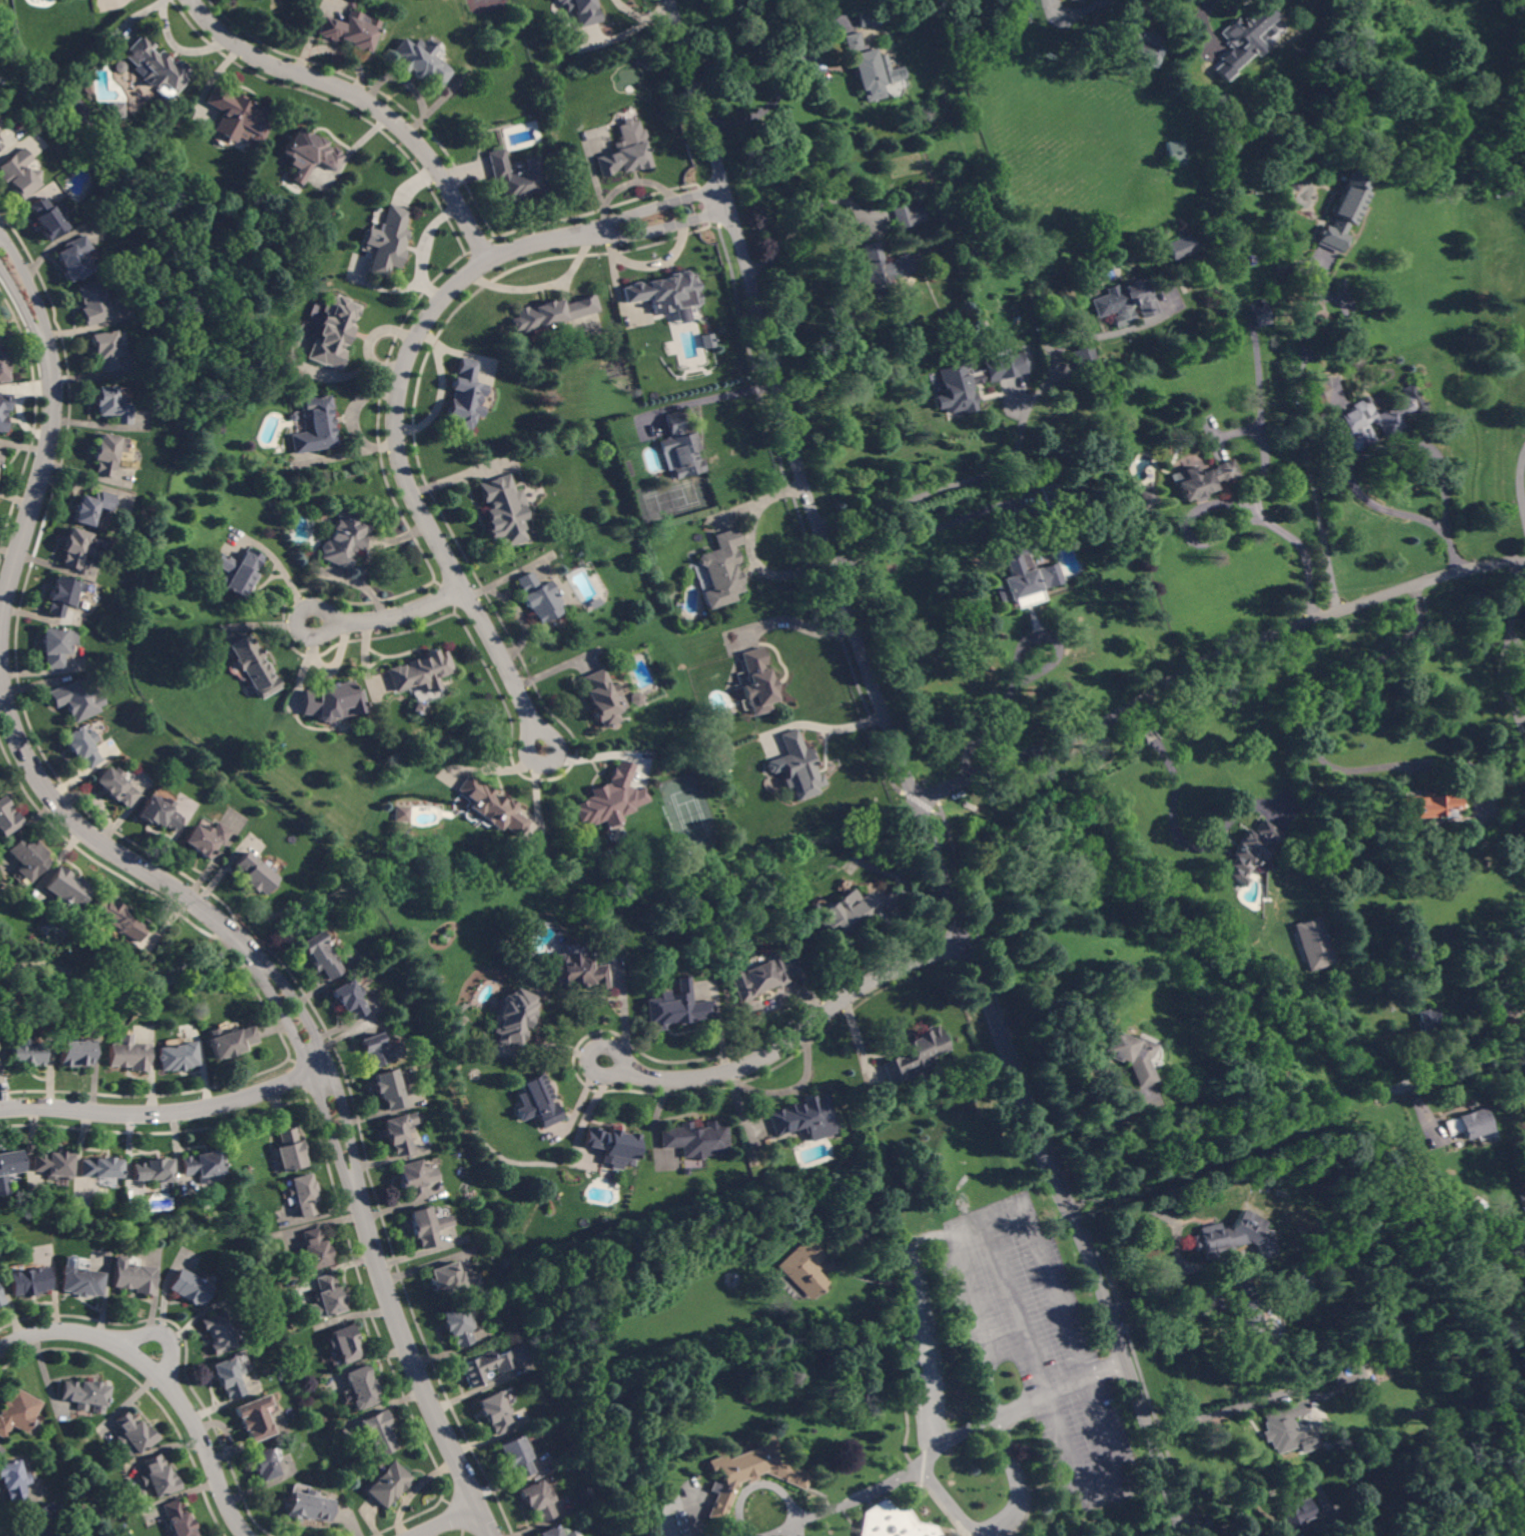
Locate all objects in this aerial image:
building: (886, 2)
building: (583, 11)
road: (643, 16)
building: (869, 18)
road: (1203, 21)
building: (350, 30)
building: (1244, 36)
building: (1143, 45)
building: (1047, 48)
building: (421, 61)
building: (156, 65)
building: (120, 66)
building: (871, 68)
road: (366, 100)
road: (766, 106)
building: (114, 109)
building: (239, 114)
building: (1, 145)
building: (309, 151)
building: (1172, 153)
building: (624, 156)
building: (19, 174)
building: (517, 177)
building: (1294, 186)
building: (1511, 188)
building: (1343, 211)
building: (909, 212)
building: (46, 218)
road: (802, 222)
road: (609, 241)
building: (913, 241)
building: (388, 242)
road: (417, 245)
building: (1178, 248)
building: (74, 259)
road: (663, 259)
building: (1284, 267)
building: (886, 268)
road: (541, 284)
building: (664, 292)
road: (617, 294)
building: (91, 303)
building: (1124, 303)
building: (552, 314)
building: (1258, 314)
building: (333, 333)
building: (684, 338)
building: (105, 349)
road: (460, 353)
building: (1086, 364)
building: (1003, 367)
building: (2, 369)
road: (401, 382)
building: (955, 385)
building: (1318, 393)
building: (465, 395)
road: (438, 397)
road: (703, 398)
building: (111, 404)
building: (4, 412)
building: (292, 417)
building: (1375, 418)
building: (316, 427)
road: (1265, 441)
road: (1017, 442)
road: (49, 443)
road: (1387, 443)
building: (677, 447)
building: (108, 453)
building: (0, 454)
road: (1308, 455)
building: (1204, 479)
road: (1520, 482)
building: (1145, 496)
building: (1052, 497)
building: (92, 507)
building: (502, 511)
road: (931, 529)
road: (1291, 536)
building: (345, 537)
building: (76, 547)
road: (748, 549)
building: (720, 569)
building: (241, 573)
building: (1022, 576)
road: (477, 591)
building: (63, 594)
road: (504, 597)
building: (537, 597)
road: (1515, 598)
road: (390, 616)
road: (797, 624)
building: (1450, 629)
road: (1517, 643)
building: (55, 646)
road: (1211, 659)
building: (253, 666)
building: (418, 671)
building: (757, 681)
road: (1503, 681)
building: (602, 698)
building: (76, 699)
building: (637, 700)
building: (335, 702)
road: (1000, 707)
road: (1322, 708)
road: (834, 727)
building: (80, 747)
building: (797, 766)
road: (905, 775)
building: (115, 786)
building: (609, 799)
building: (1430, 805)
building: (491, 807)
building: (159, 813)
building: (400, 814)
building: (7, 818)
road: (1172, 820)
road: (1504, 832)
building: (205, 838)
building: (1328, 839)
building: (1250, 851)
building: (28, 856)
building: (1314, 861)
building: (251, 874)
building: (66, 891)
building: (852, 913)
building: (114, 917)
building: (445, 936)
building: (711, 941)
building: (1313, 942)
building: (319, 955)
building: (1421, 958)
building: (1519, 966)
building: (575, 971)
building: (756, 978)
building: (348, 998)
building: (1497, 1003)
building: (675, 1007)
building: (514, 1017)
building: (1427, 1020)
building: (1506, 1028)
road: (792, 1038)
building: (230, 1041)
building: (380, 1050)
building: (26, 1052)
building: (75, 1053)
building: (915, 1053)
building: (1125, 1054)
building: (128, 1056)
building: (177, 1056)
road: (318, 1060)
road: (1476, 1071)
road: (1111, 1082)
building: (388, 1089)
building: (541, 1101)
road: (164, 1111)
building: (805, 1119)
building: (1470, 1124)
building: (398, 1134)
building: (697, 1139)
building: (613, 1145)
building: (1177, 1146)
building: (288, 1151)
building: (202, 1164)
building: (53, 1165)
building: (9, 1168)
building: (101, 1168)
building: (153, 1171)
building: (686, 1171)
building: (412, 1179)
building: (301, 1195)
building: (1522, 1198)
road: (1145, 1204)
building: (1524, 1209)
building: (428, 1224)
building: (1231, 1237)
building: (314, 1251)
building: (804, 1267)
building: (134, 1277)
road: (1175, 1277)
building: (452, 1280)
building: (30, 1281)
building: (82, 1281)
building: (189, 1286)
building: (2, 1298)
building: (327, 1298)
building: (457, 1325)
building: (1252, 1331)
building: (218, 1333)
road: (987, 1340)
building: (345, 1344)
building: (487, 1366)
building: (1315, 1376)
building: (227, 1377)
road: (161, 1378)
road: (1068, 1382)
building: (363, 1387)
building: (84, 1394)
road: (928, 1397)
building: (17, 1411)
building: (496, 1413)
road: (1214, 1415)
building: (254, 1418)
building: (1286, 1429)
building: (132, 1432)
building: (379, 1432)
building: (516, 1456)
building: (263, 1464)
building: (748, 1474)
building: (157, 1477)
building: (13, 1480)
building: (388, 1483)
road: (1019, 1492)
building: (538, 1500)
building: (645, 1502)
building: (308, 1506)
building: (648, 1509)
building: (1296, 1515)
building: (177, 1519)
road: (446, 1520)
building: (893, 1521)
building: (40, 1522)
road: (784, 1527)
building: (1341, 1530)
building: (554, 1532)

